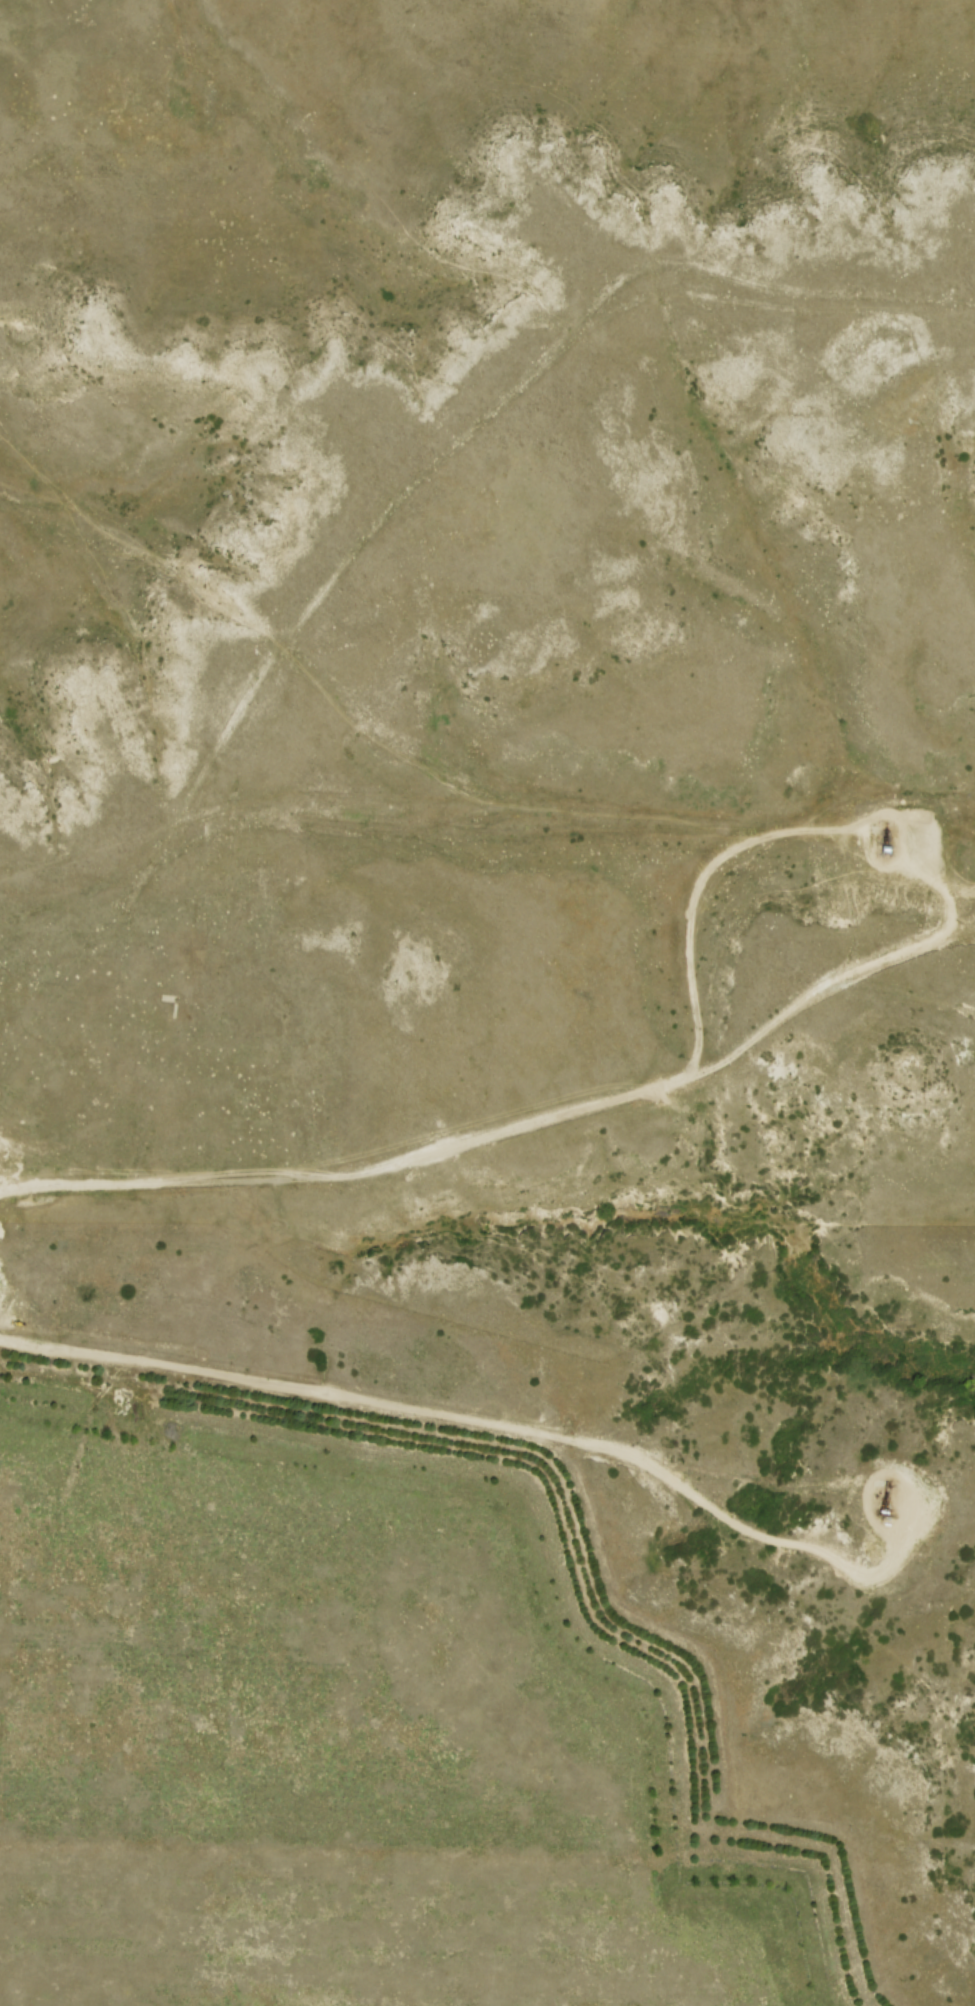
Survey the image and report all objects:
road: (819, 990)
road: (603, 1102)
road: (3, 1332)
road: (469, 1416)
road: (890, 1470)
petroleum well: (889, 1499)

